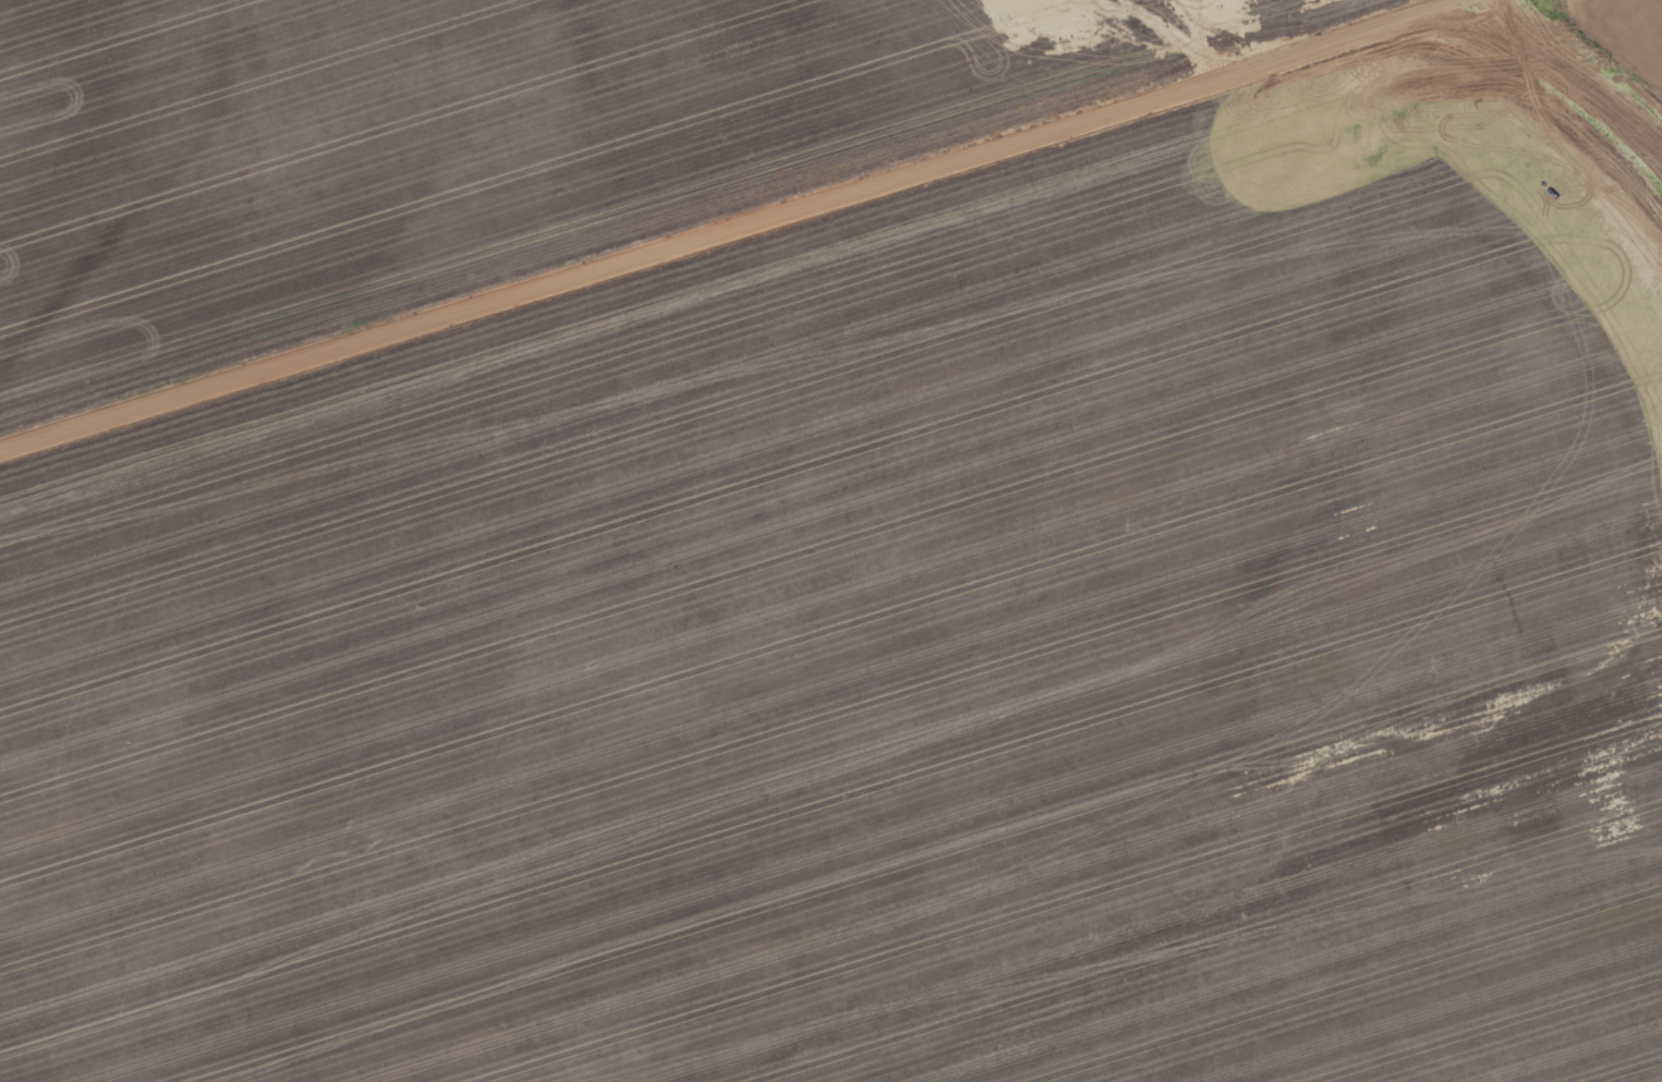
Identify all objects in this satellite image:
road: (728, 223)

